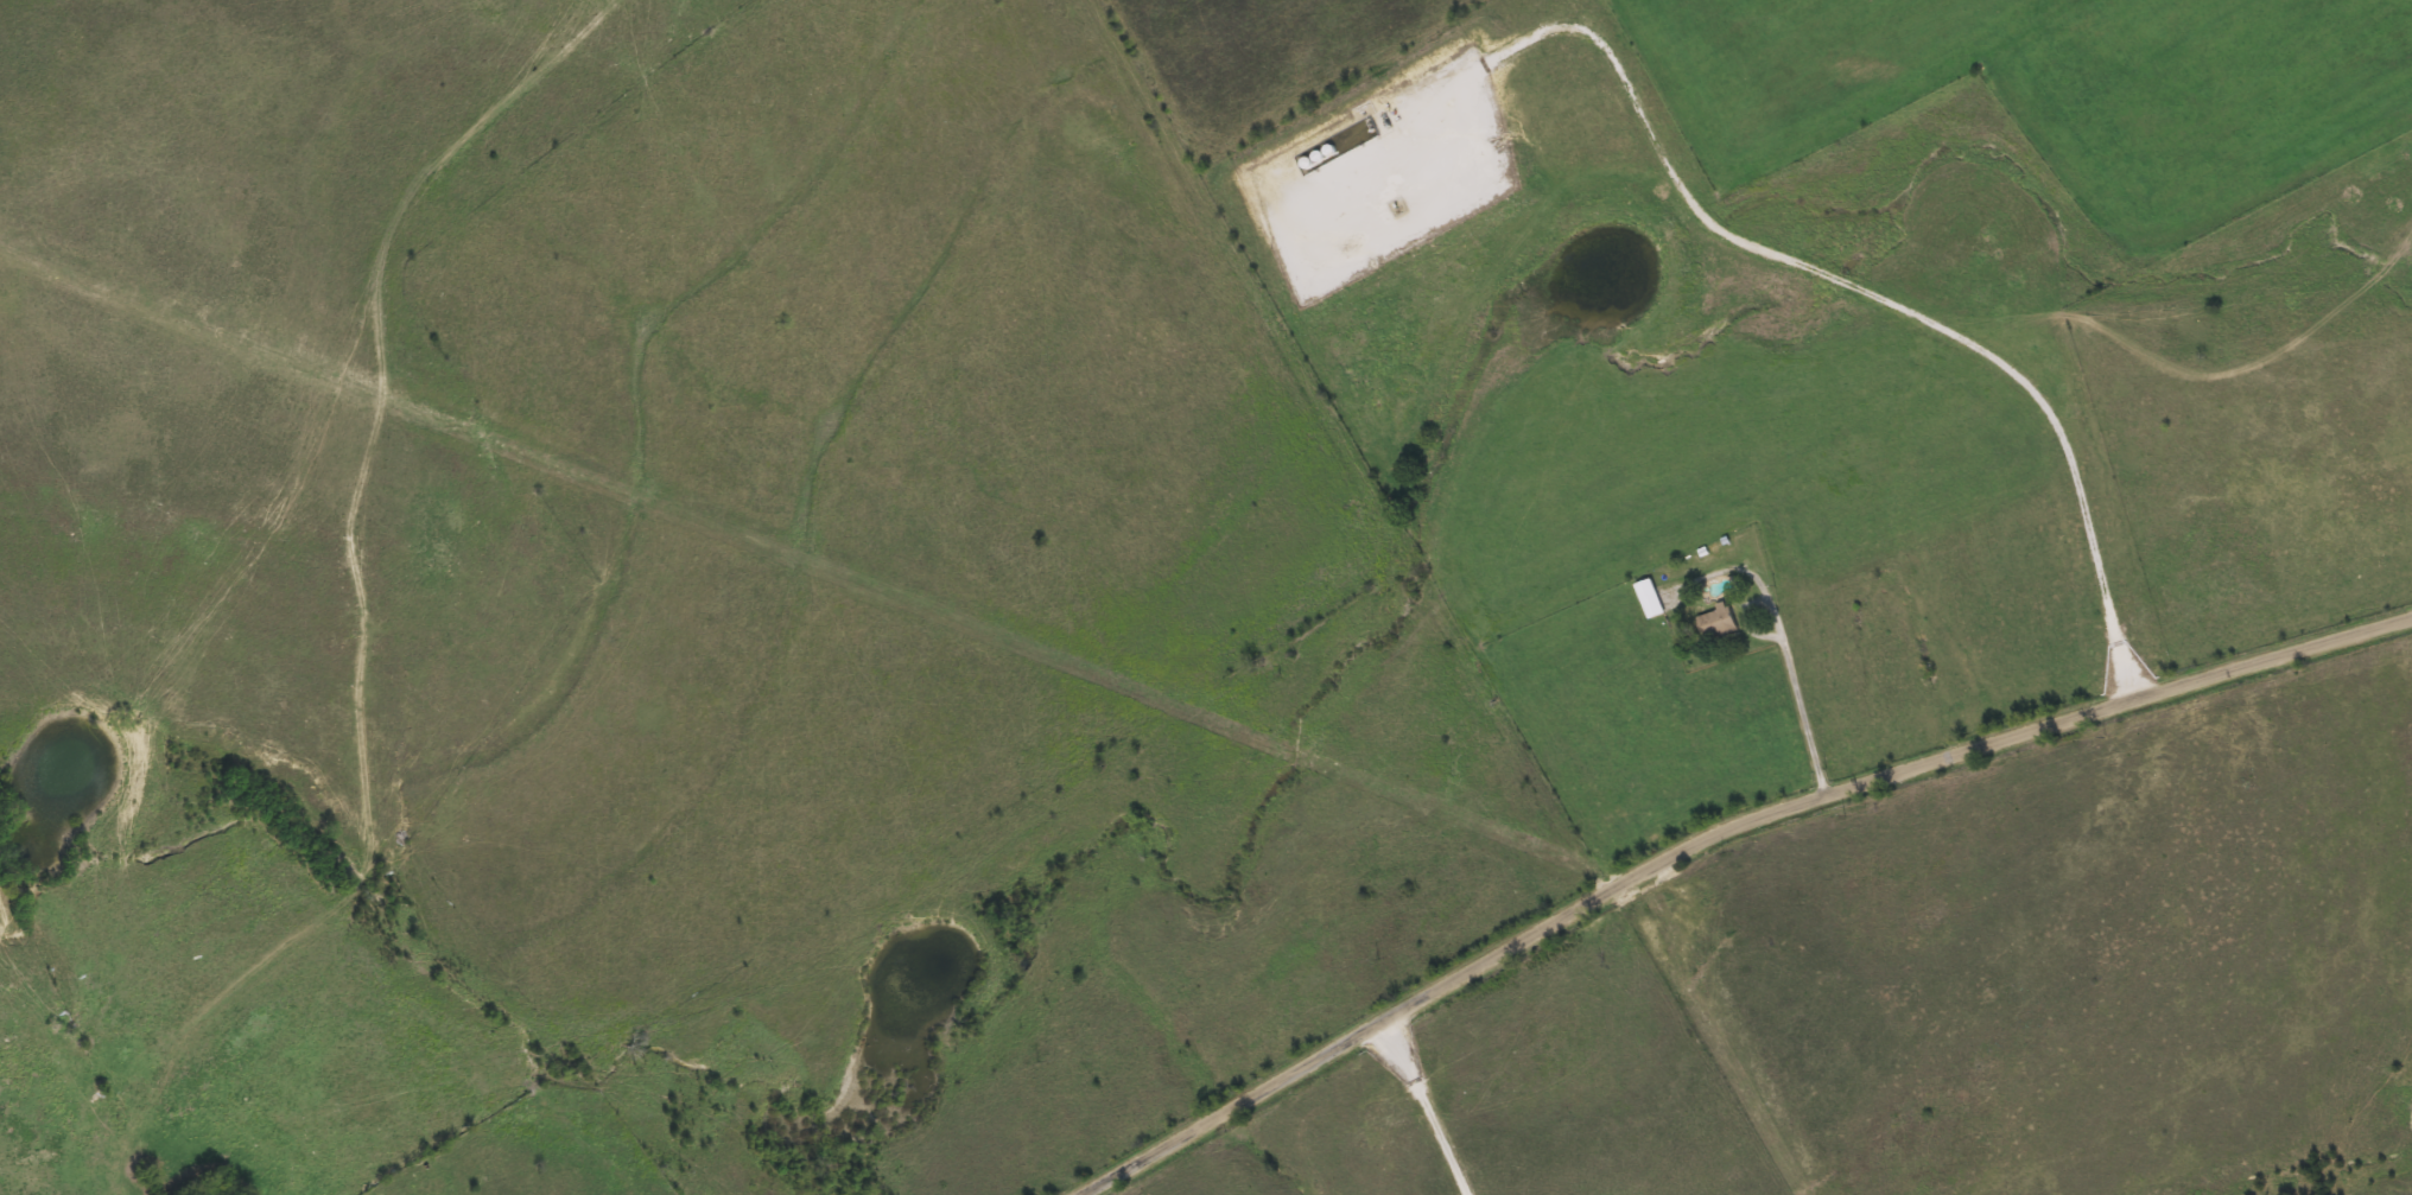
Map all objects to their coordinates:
road: (1878, 295)
building: (1649, 597)
building: (1715, 619)
road: (1564, 657)
road: (1797, 682)
road: (1721, 837)
road: (1422, 1110)

